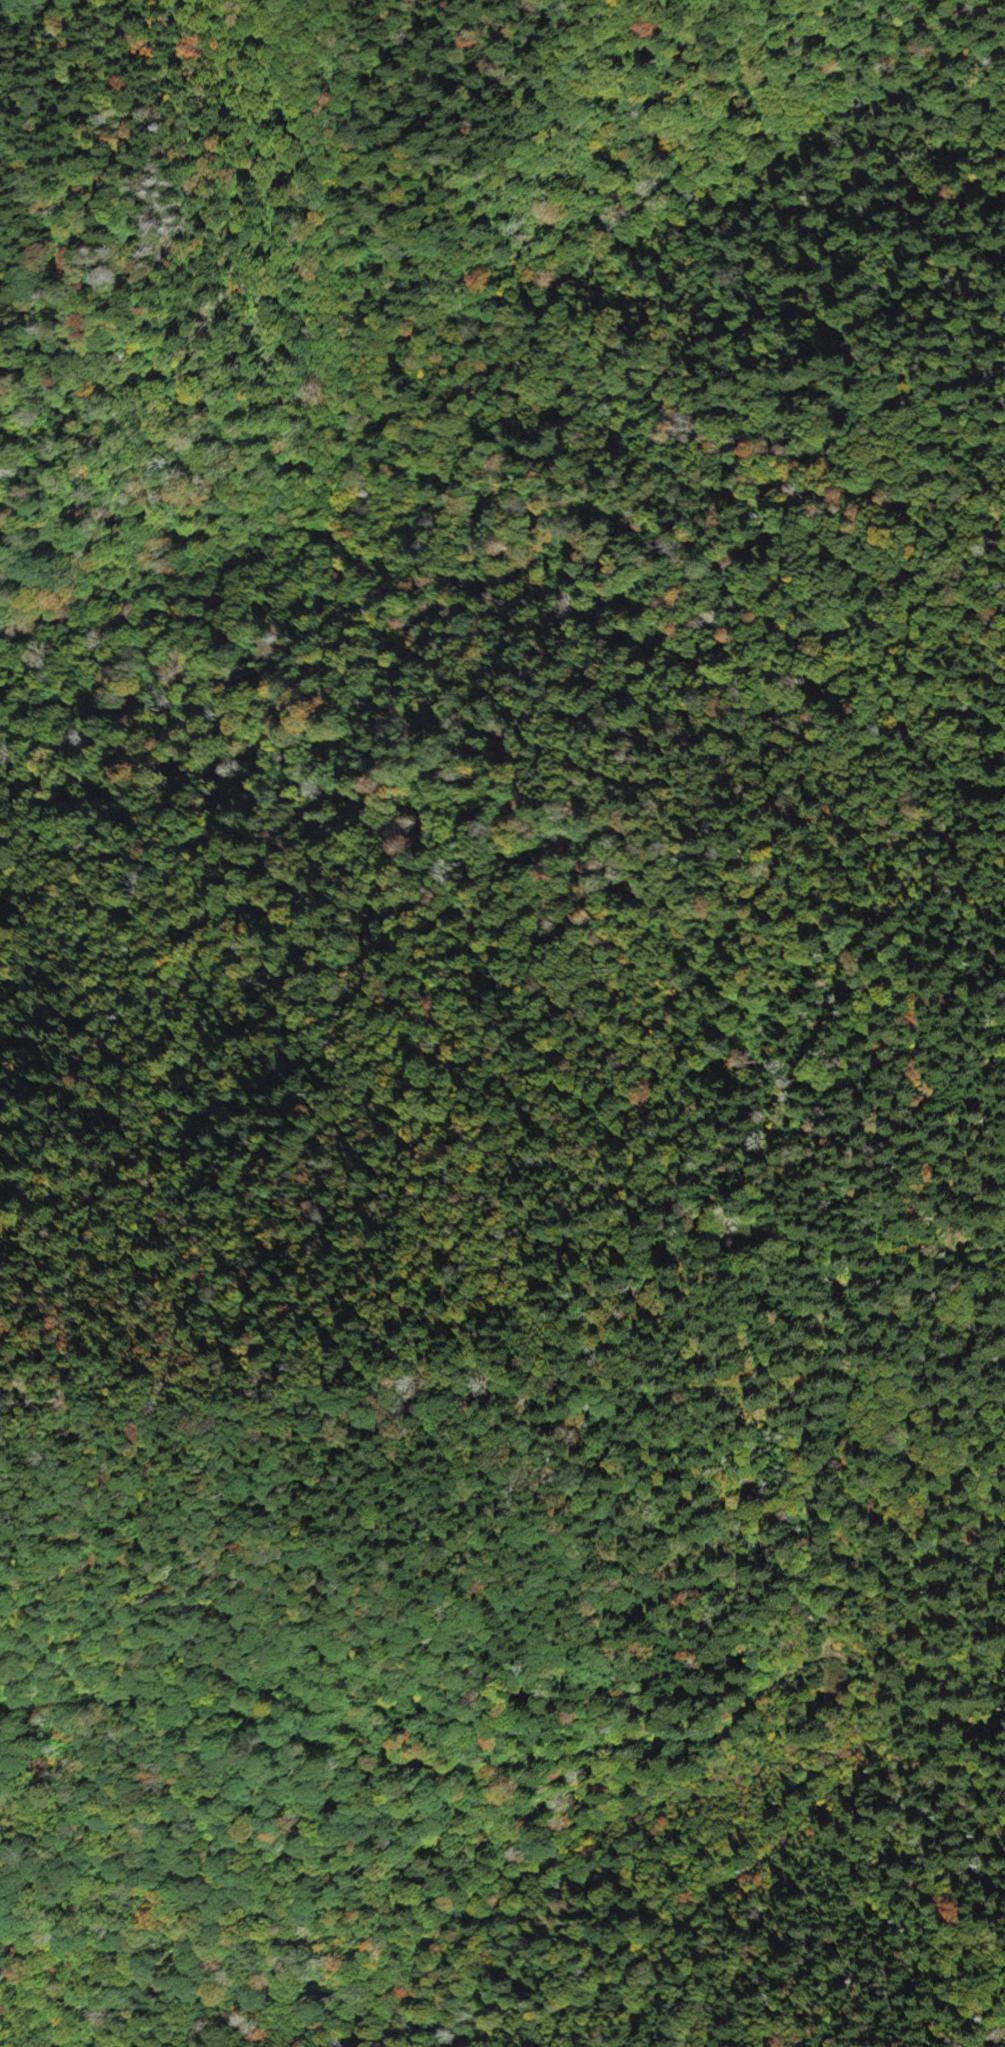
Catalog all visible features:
road: (177, 204)
road: (709, 567)
road: (614, 1723)

